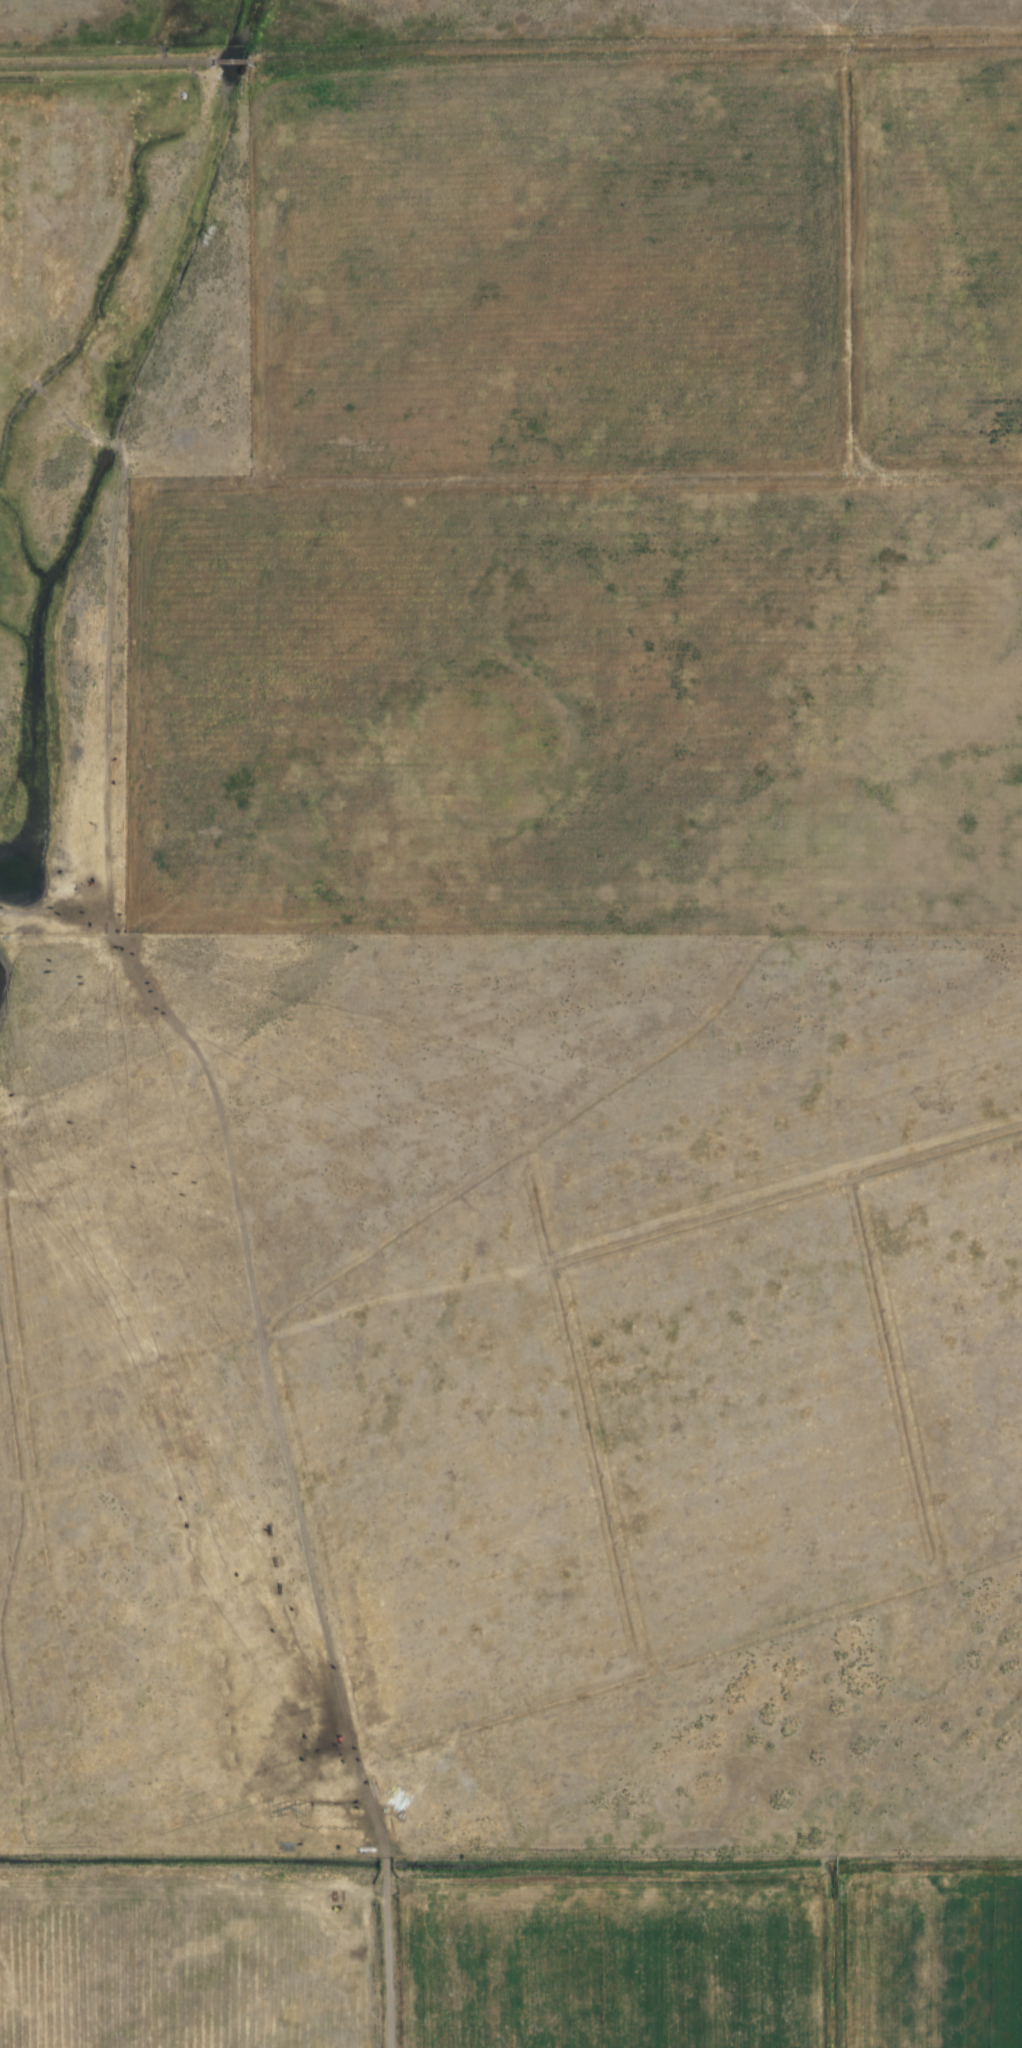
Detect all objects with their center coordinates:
crop: (940, 270)
crop: (565, 280)
crop: (589, 707)
road: (301, 1470)
crop: (632, 1956)
crop: (936, 1956)
crop: (198, 1958)

